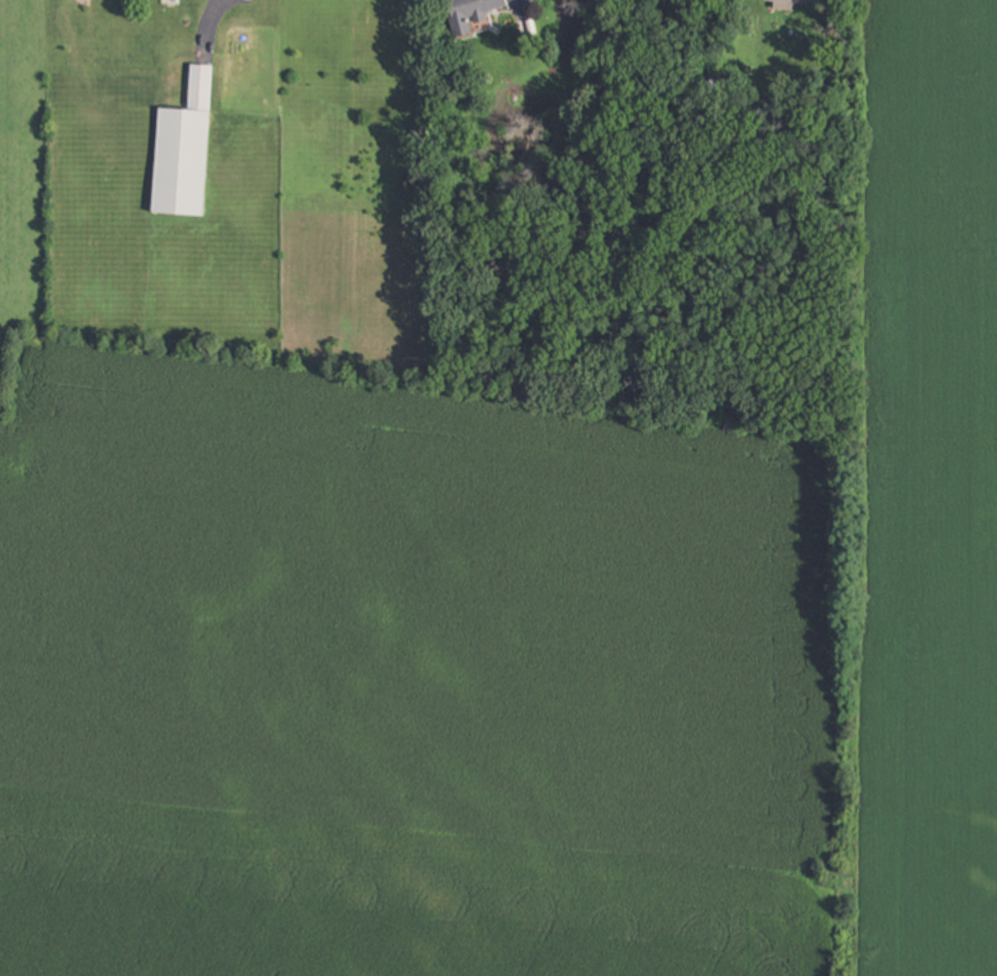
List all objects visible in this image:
building: (786, 4)
building: (469, 14)
road: (210, 26)
building: (184, 152)

